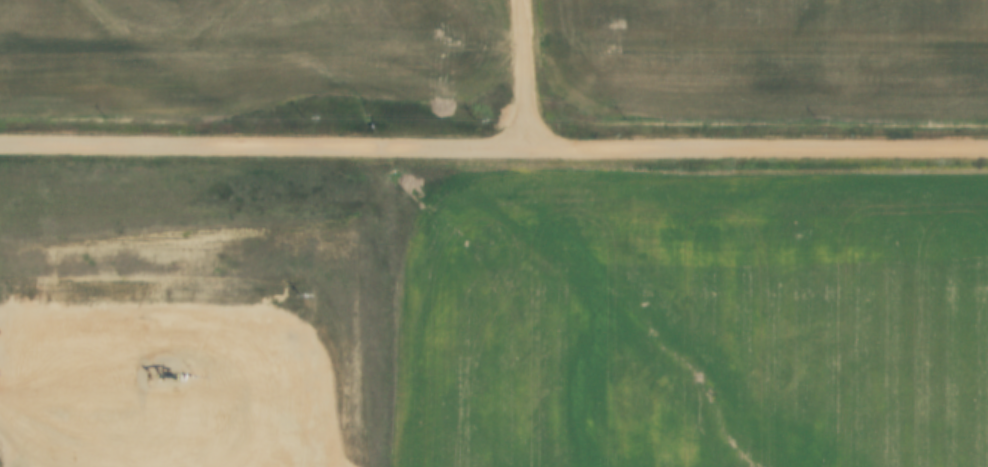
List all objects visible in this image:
road: (484, 101)
building: (241, 371)

